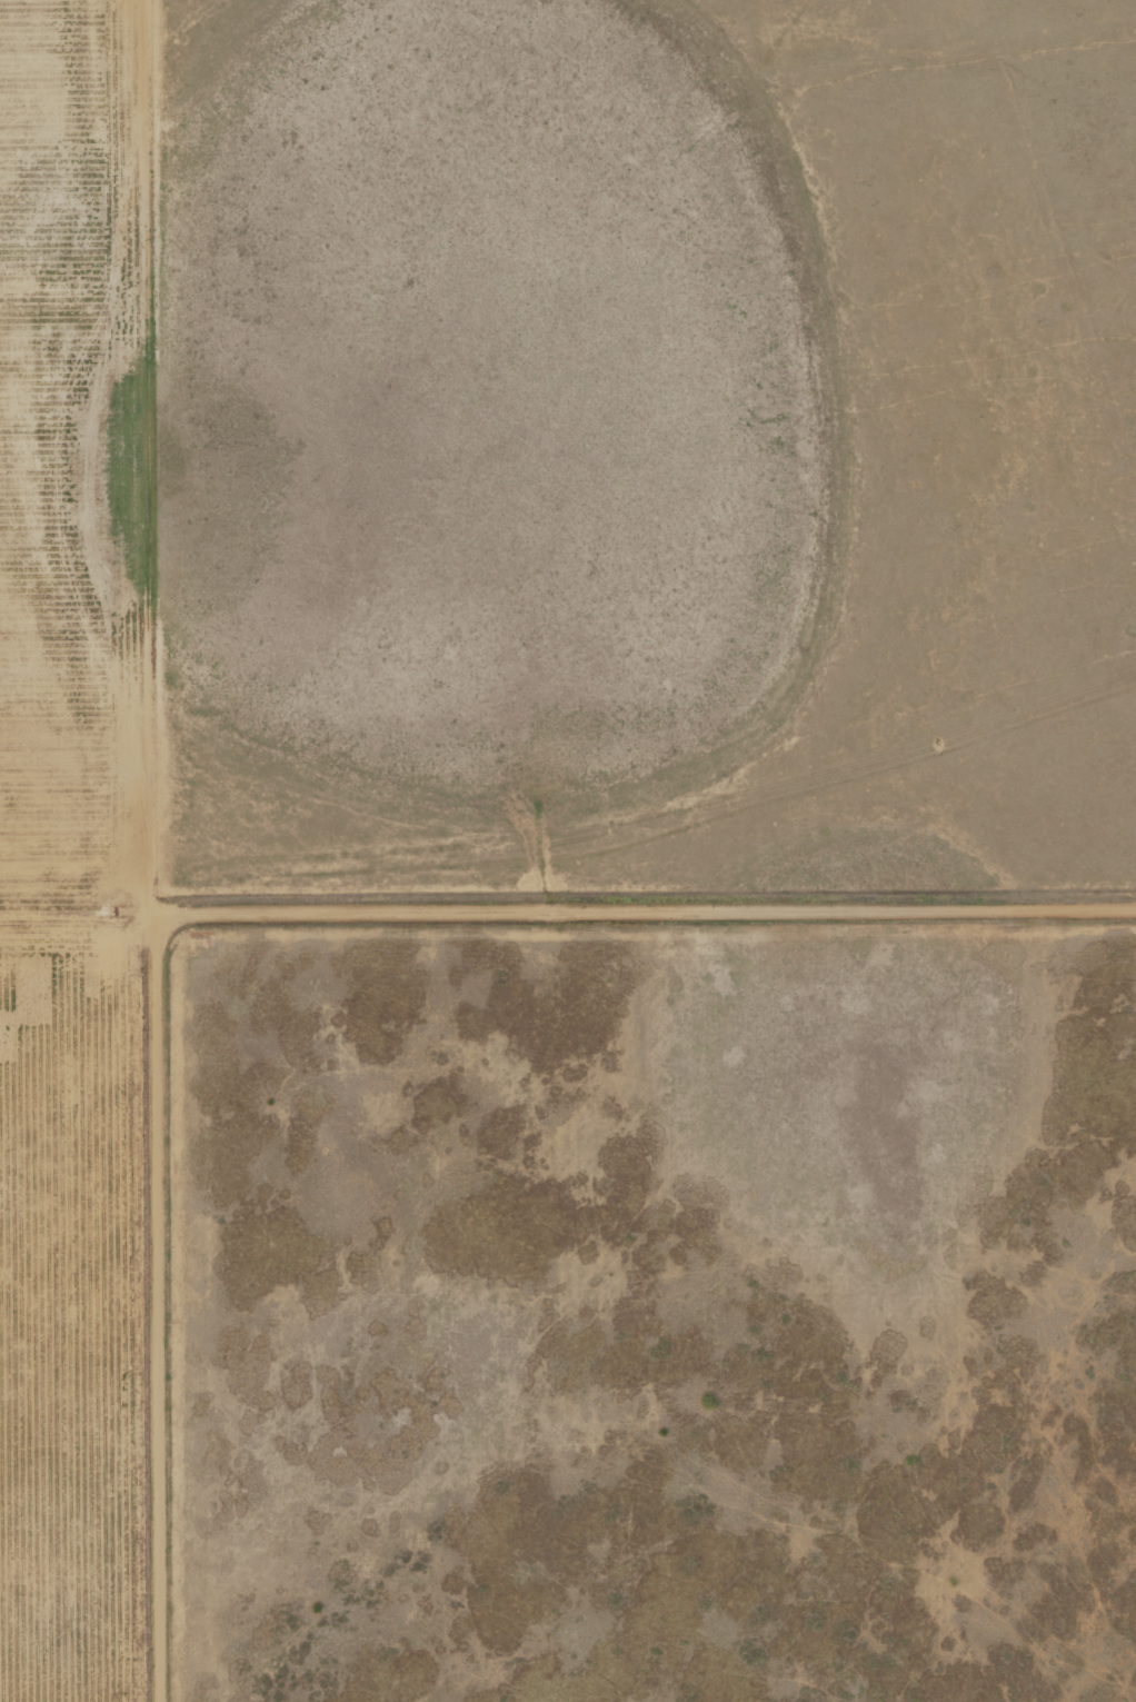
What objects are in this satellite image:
road: (149, 454)
road: (660, 906)
road: (92, 908)
road: (160, 1301)

